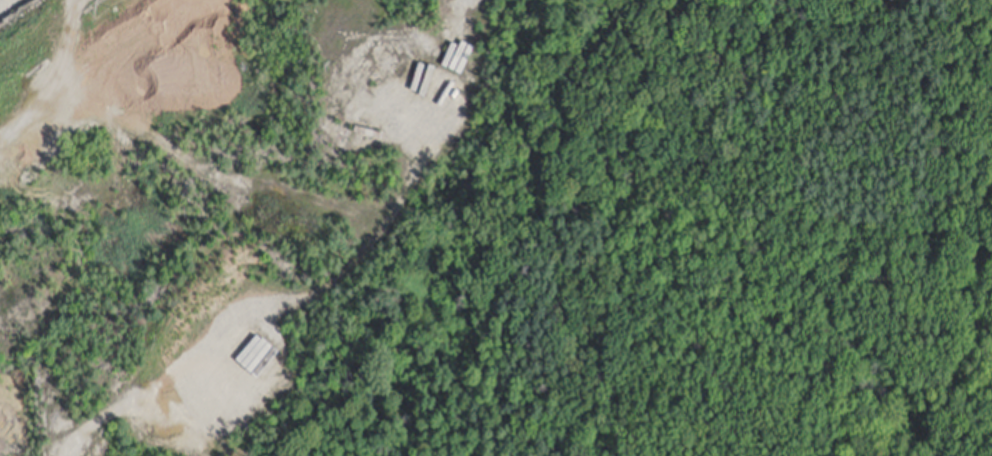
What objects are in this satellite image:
quarry: (297, 228)

